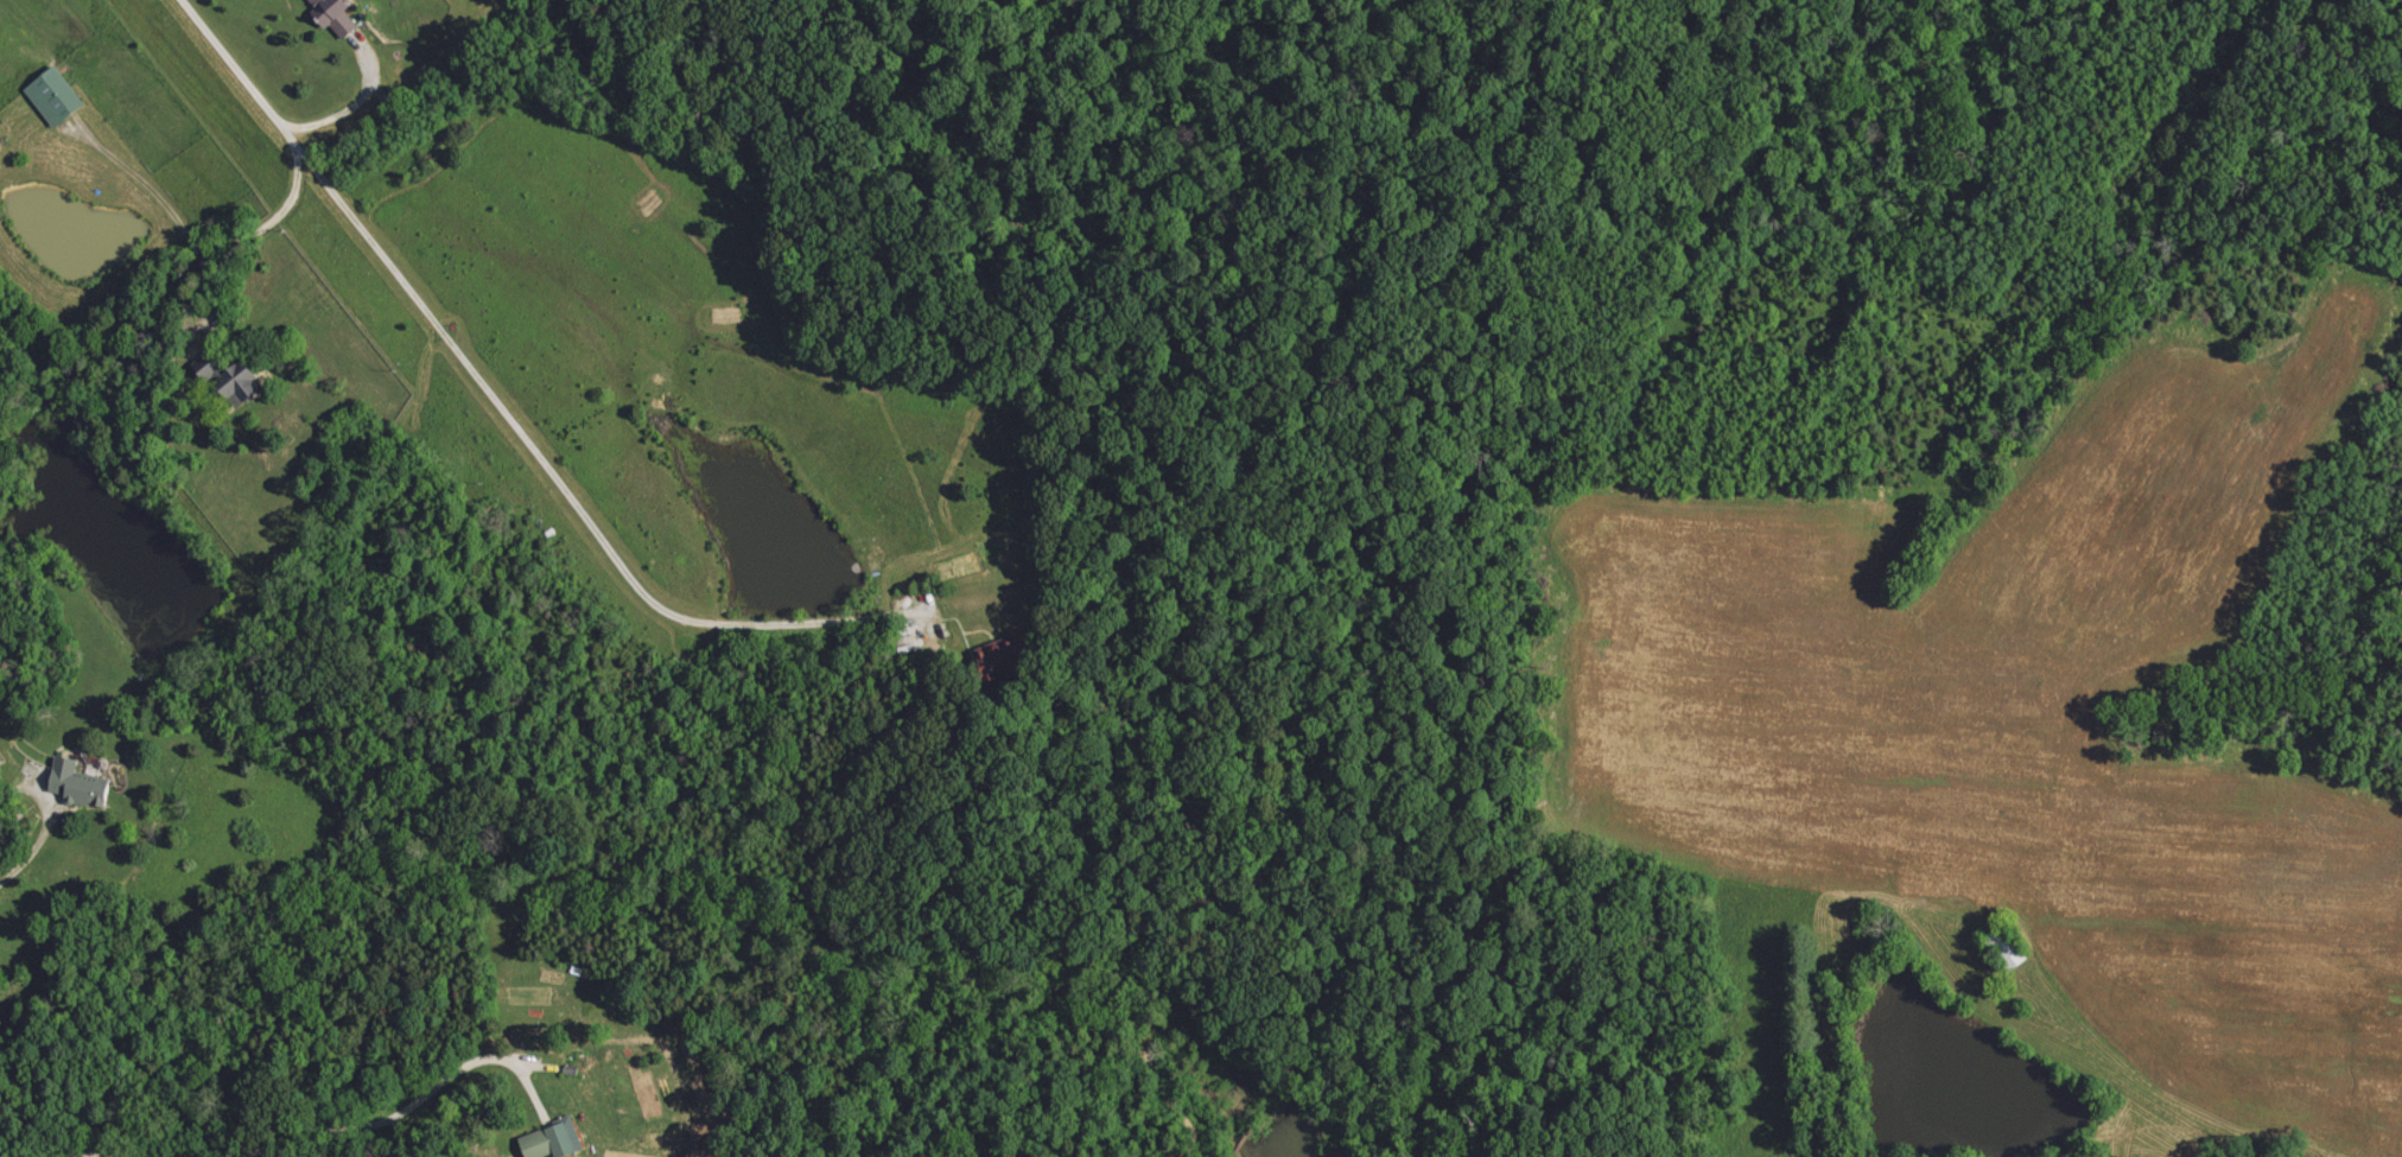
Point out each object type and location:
building: (336, 14)
building: (56, 96)
road: (366, 97)
road: (269, 222)
building: (235, 381)
road: (500, 409)
building: (1005, 659)
building: (80, 783)
road: (45, 822)
road: (409, 1110)
building: (553, 1140)
road: (75, 1156)

